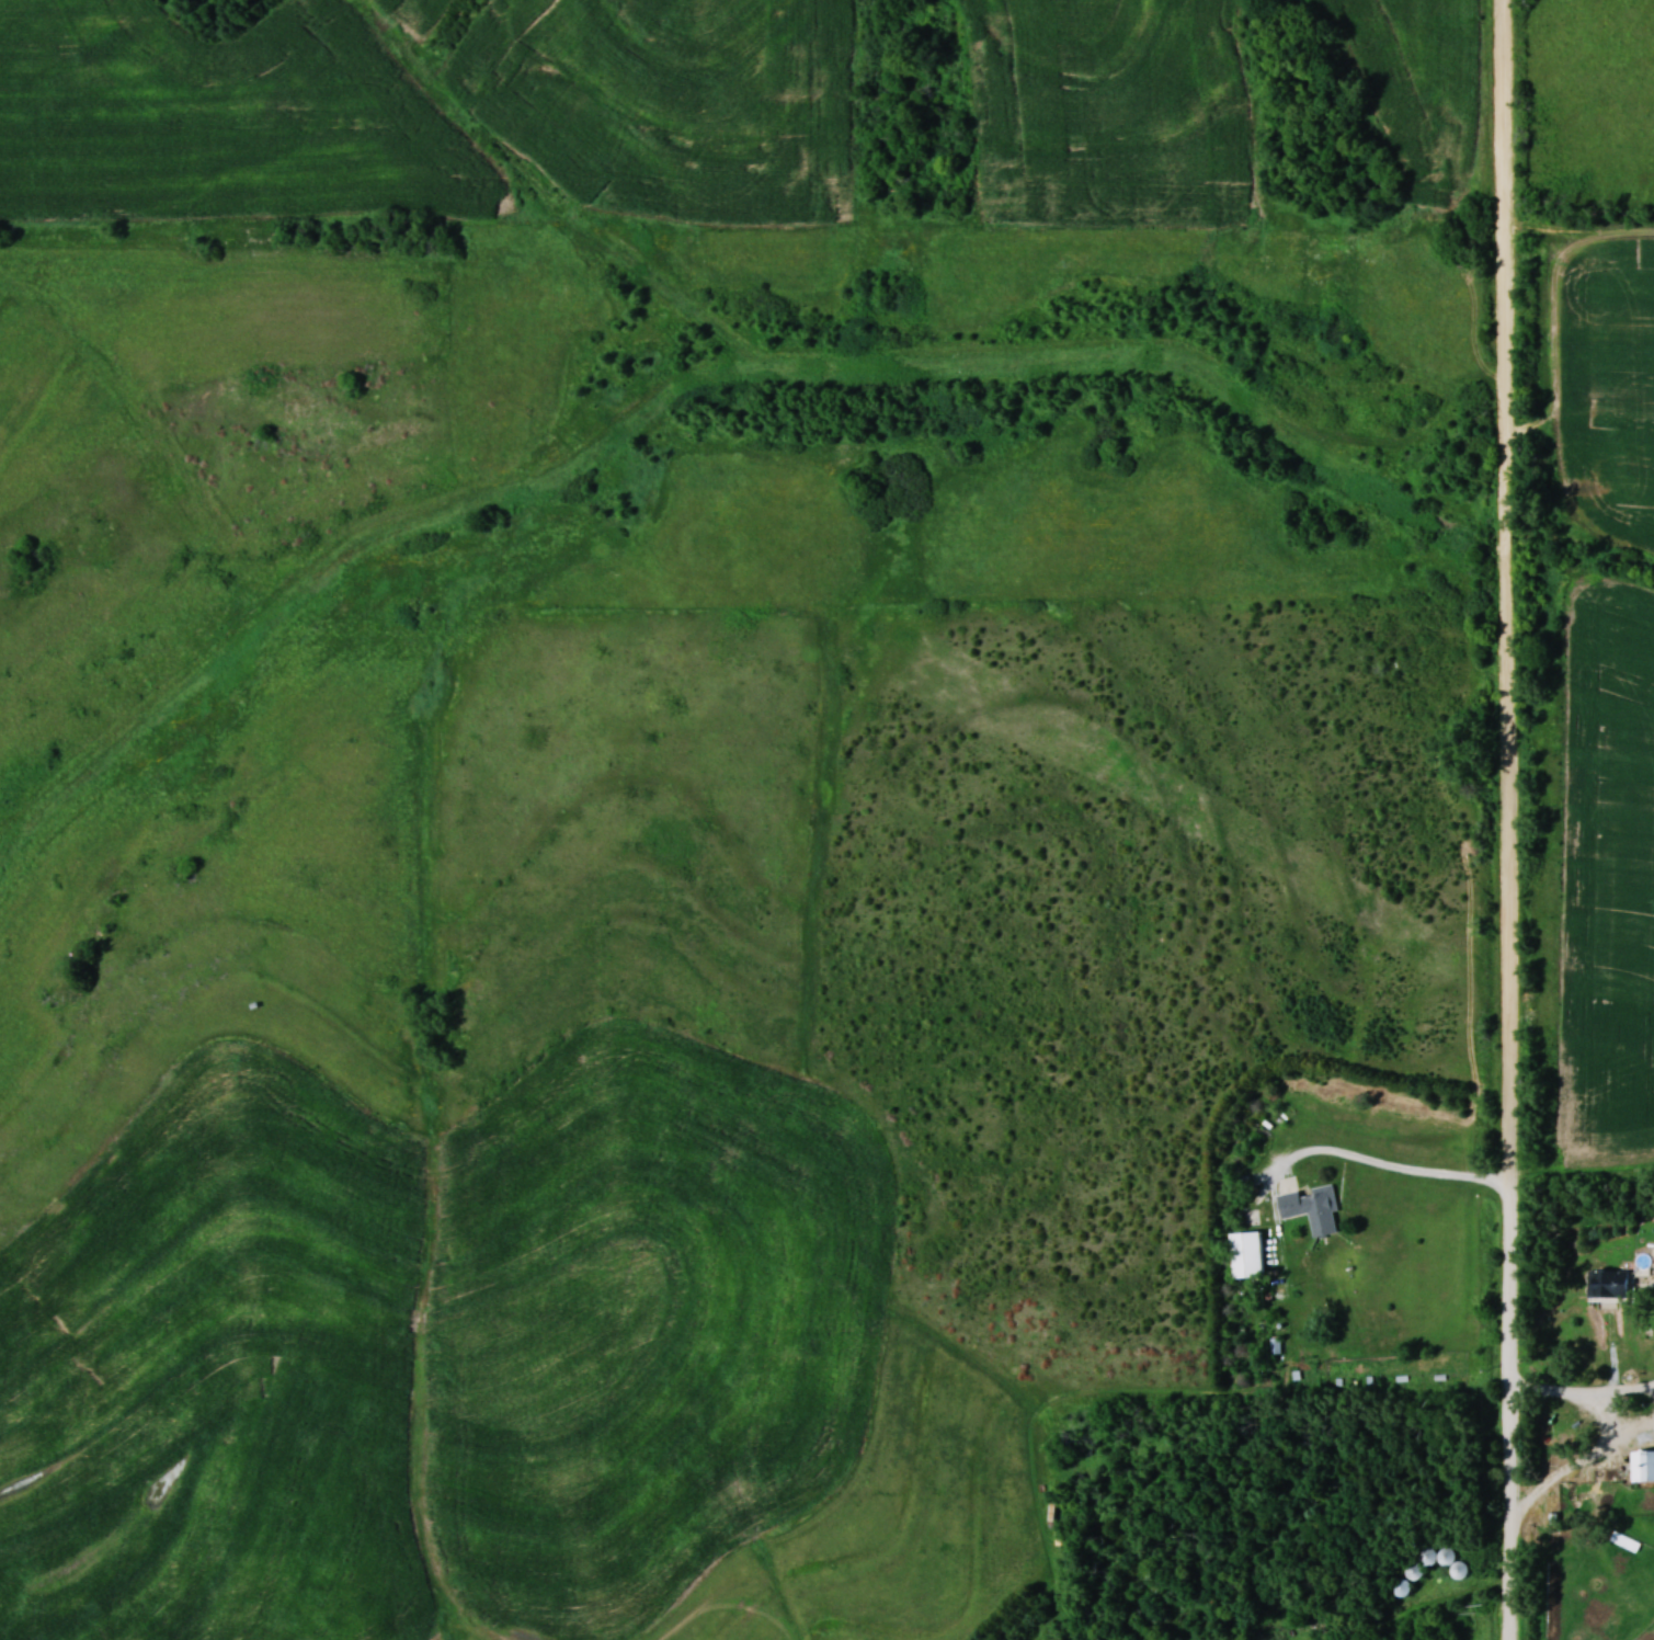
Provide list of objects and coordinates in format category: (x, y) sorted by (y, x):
road: (1509, 820)
road: (1392, 1166)
building: (1313, 1208)
building: (1247, 1253)
road: (1561, 1390)
road: (1611, 1408)
building: (1643, 1464)
building: (1444, 1559)
building: (1413, 1570)
building: (1402, 1586)
road: (1418, 1610)

